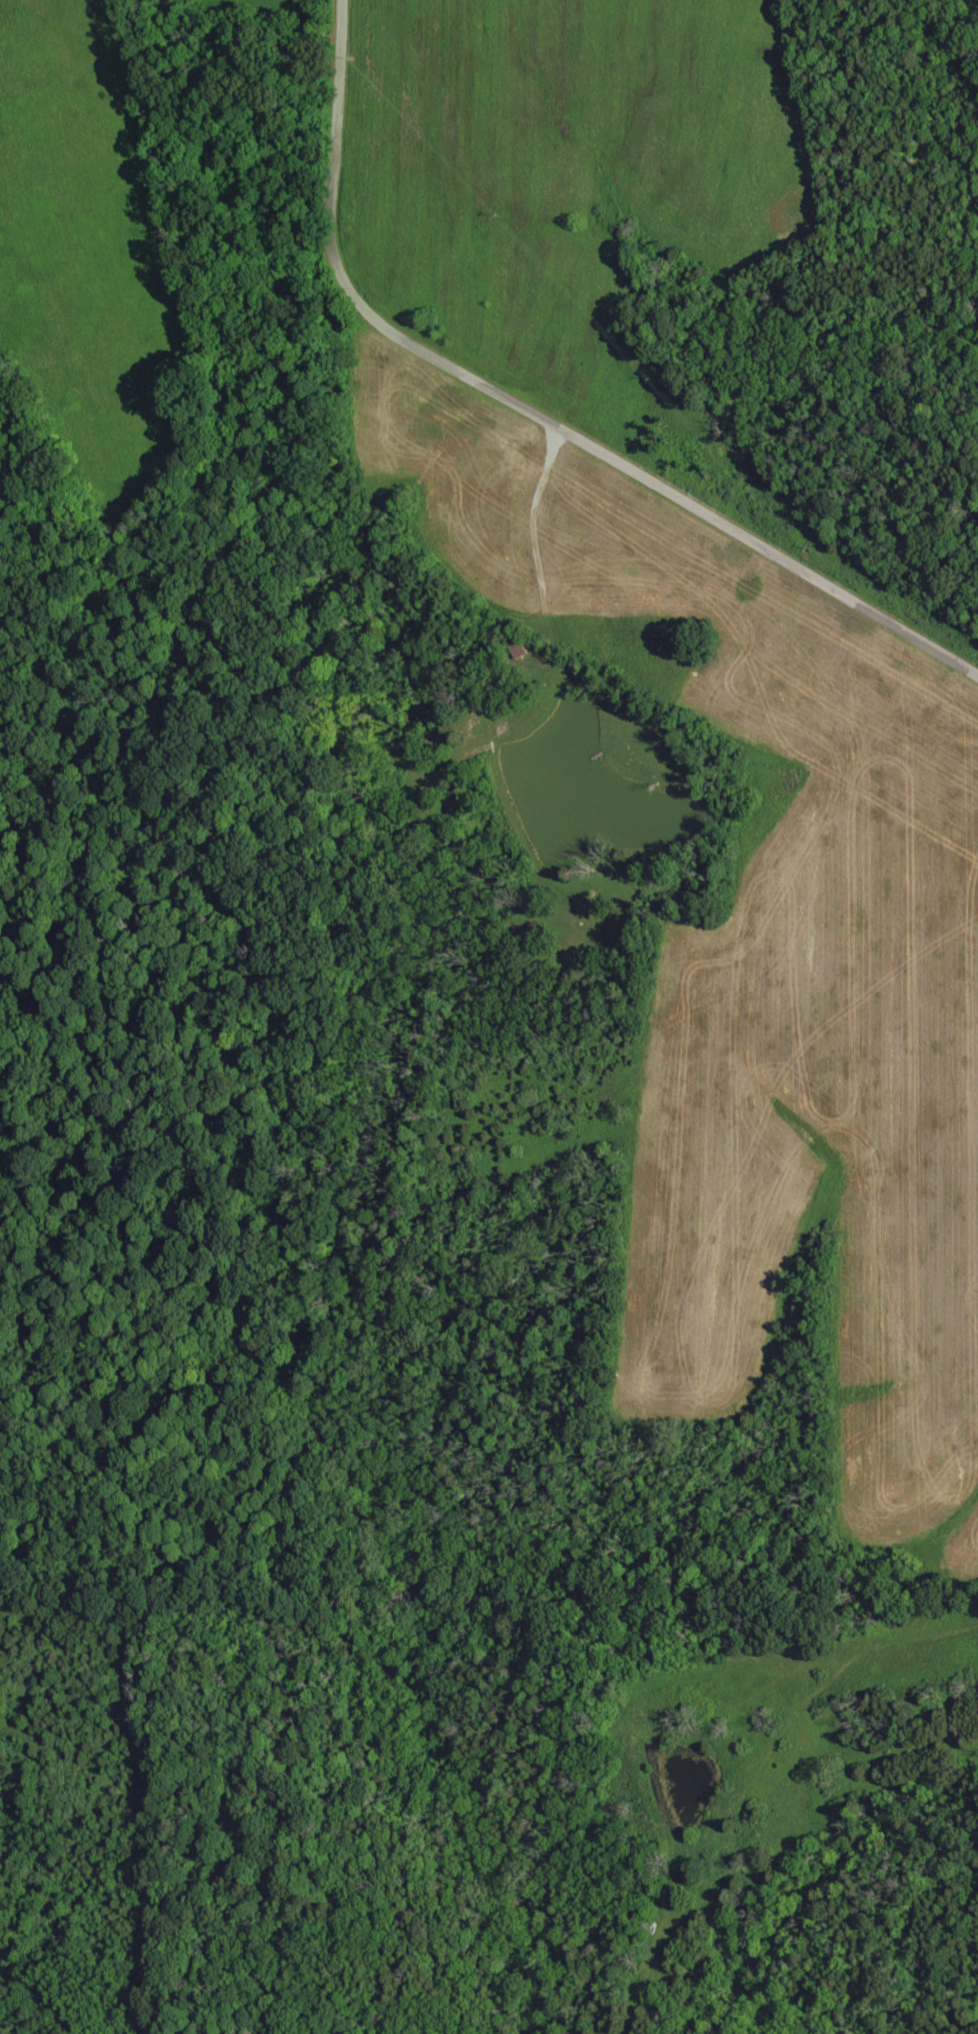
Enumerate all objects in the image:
road: (528, 413)
road: (818, 1879)

